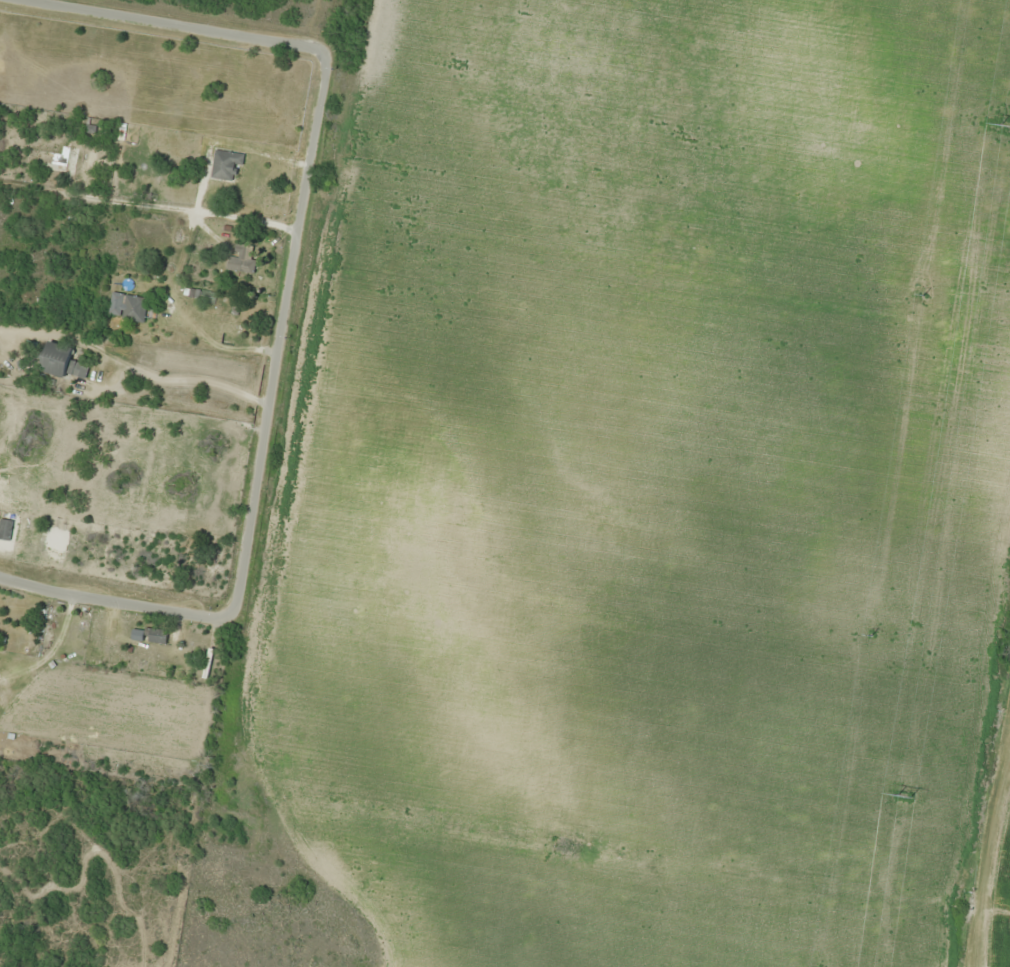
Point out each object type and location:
road: (181, 23)
power tower: (1005, 124)
building: (225, 165)
road: (148, 206)
building: (114, 242)
building: (240, 261)
building: (134, 309)
building: (230, 324)
road: (279, 335)
building: (60, 362)
road: (113, 603)
building: (157, 636)
road: (990, 686)
power tower: (903, 792)
road: (951, 882)

